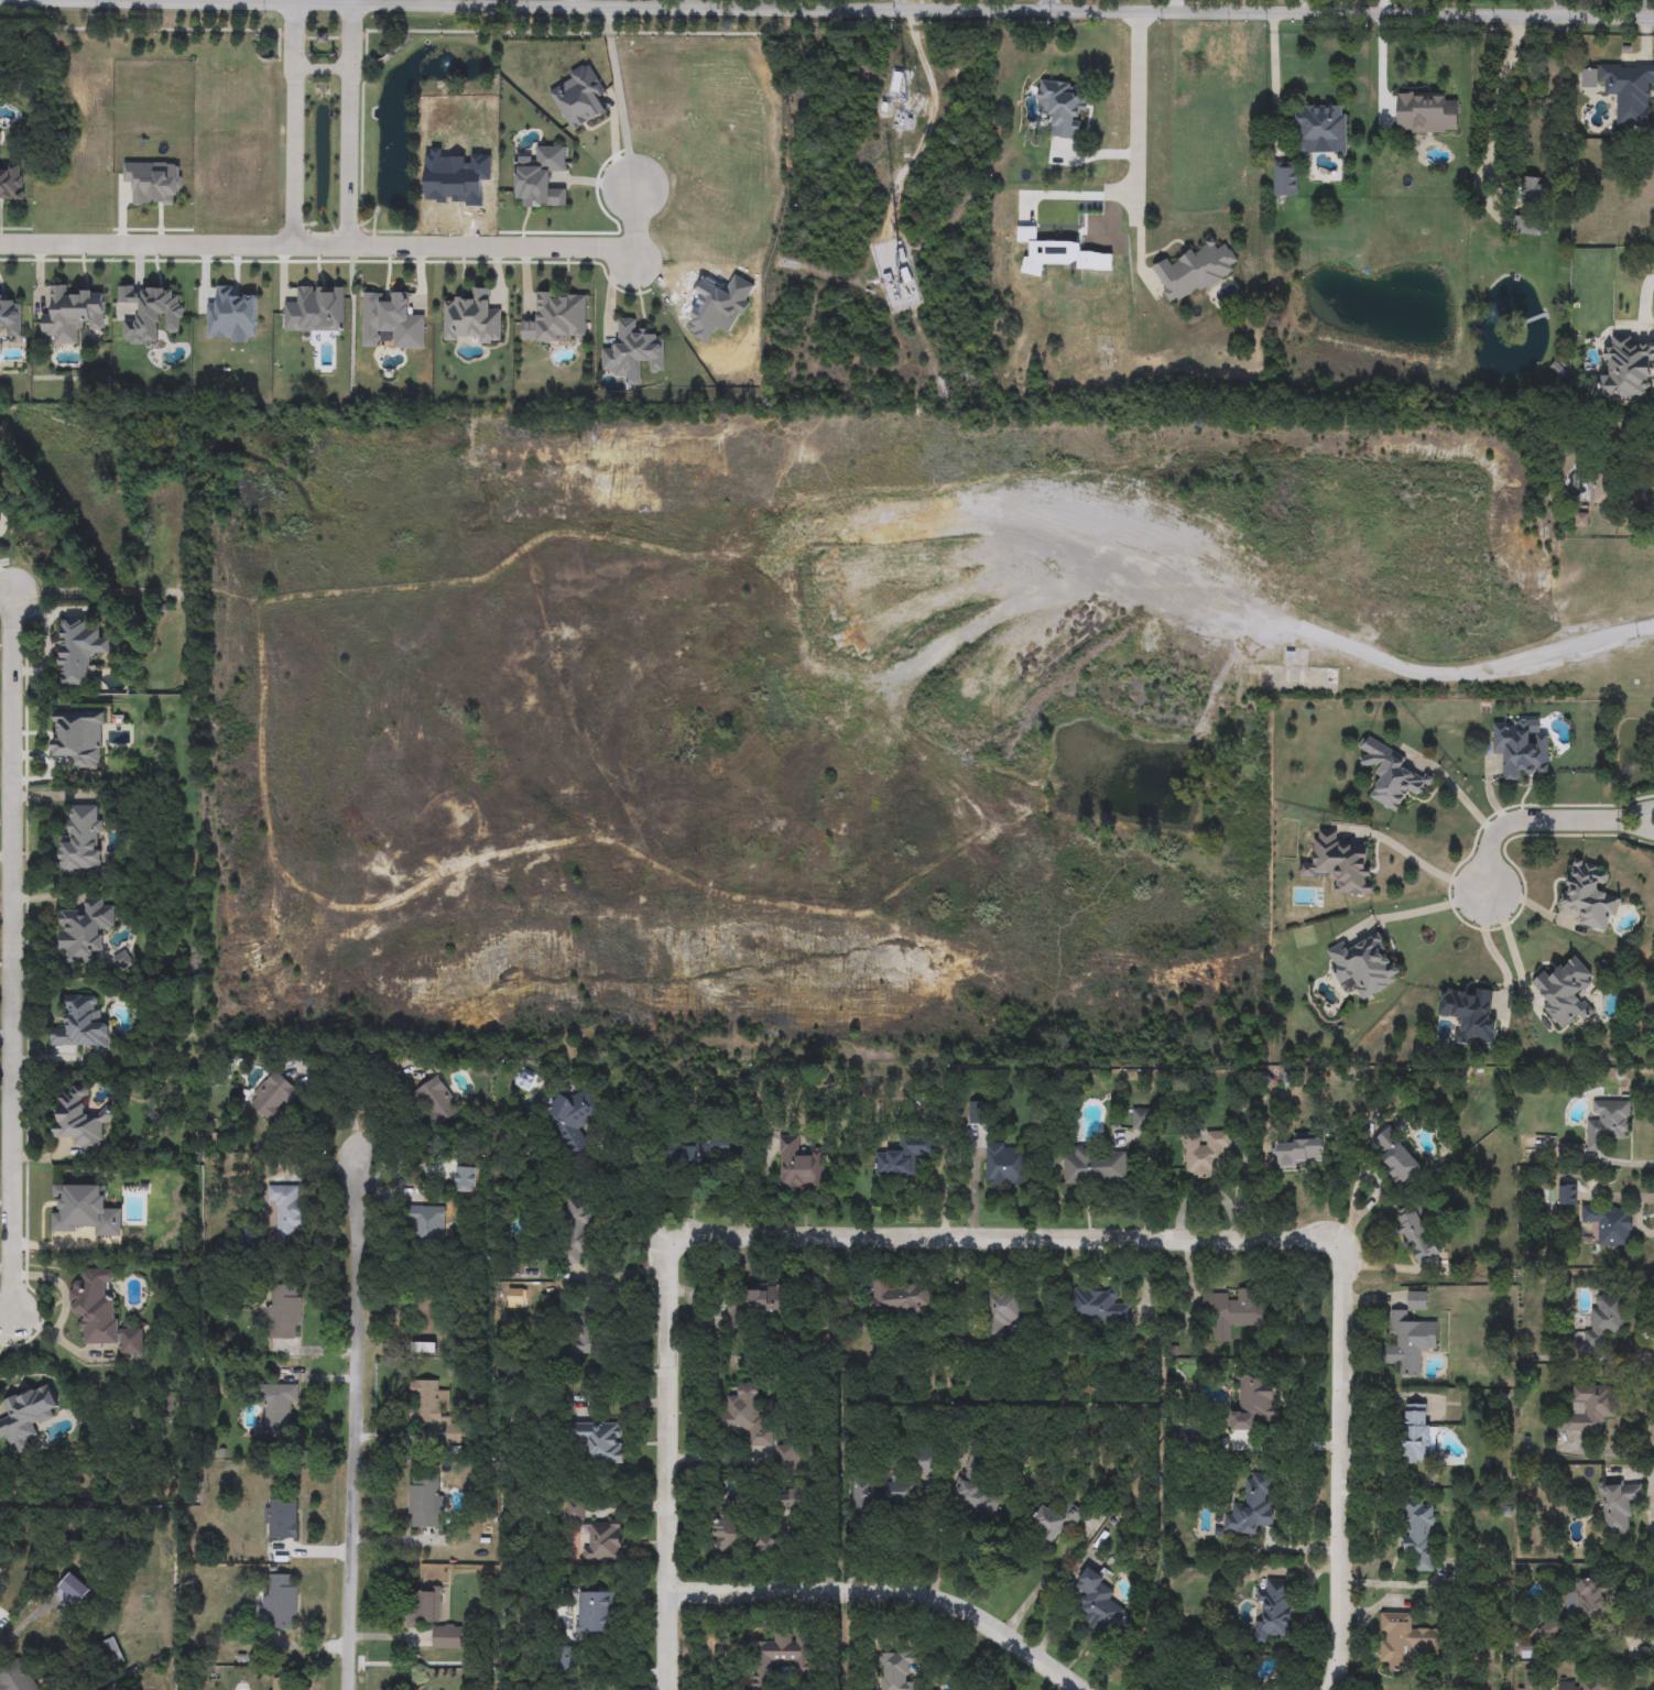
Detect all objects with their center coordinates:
road: (322, 2)
road: (1059, 4)
road: (1173, 6)
road: (1299, 6)
road: (1369, 7)
road: (873, 8)
building: (1629, 91)
road: (618, 97)
road: (1491, 109)
building: (1426, 113)
road: (915, 116)
road: (1135, 121)
road: (292, 127)
road: (349, 127)
building: (1319, 129)
building: (1285, 178)
building: (11, 184)
building: (1534, 192)
road: (634, 223)
building: (1519, 225)
road: (318, 248)
building: (1194, 271)
road: (1643, 303)
building: (150, 314)
building: (73, 316)
building: (11, 317)
building: (471, 318)
building: (555, 318)
building: (392, 321)
building: (632, 350)
building: (1626, 370)
building: (1602, 489)
road: (6, 595)
building: (78, 651)
park: (821, 715)
building: (1520, 749)
building: (1390, 775)
road: (1628, 814)
road: (1516, 824)
road: (1626, 832)
building: (81, 843)
building: (1340, 864)
road: (1429, 874)
building: (1589, 896)
road: (1435, 913)
building: (84, 931)
road: (11, 955)
road: (1491, 955)
building: (1364, 966)
building: (1564, 993)
building: (1470, 1015)
building: (81, 1025)
building: (527, 1081)
building: (273, 1097)
building: (436, 1101)
building: (978, 1113)
building: (577, 1117)
building: (78, 1120)
building: (1608, 1123)
building: (1299, 1151)
building: (706, 1154)
building: (1106, 1155)
building: (1206, 1155)
building: (903, 1156)
building: (1395, 1156)
building: (799, 1165)
building: (1003, 1165)
building: (466, 1179)
building: (1567, 1195)
building: (286, 1211)
building: (427, 1225)
building: (1608, 1225)
building: (577, 1231)
building: (1415, 1233)
road: (1008, 1237)
building: (899, 1299)
building: (755, 1302)
building: (1096, 1306)
building: (283, 1310)
building: (1234, 1312)
building: (101, 1313)
building: (999, 1313)
road: (6, 1316)
building: (1604, 1320)
building: (583, 1335)
building: (1411, 1338)
building: (1254, 1402)
building: (278, 1407)
building: (433, 1408)
building: (1589, 1409)
building: (747, 1415)
building: (28, 1416)
road: (353, 1425)
building: (1415, 1433)
building: (1186, 1436)
building: (600, 1441)
building: (922, 1461)
road: (718, 1462)
building: (882, 1495)
building: (975, 1496)
building: (425, 1501)
building: (792, 1501)
building: (1619, 1506)
building: (1253, 1507)
road: (1650, 1514)
building: (281, 1519)
building: (1053, 1520)
building: (726, 1533)
road: (875, 1533)
building: (1418, 1534)
building: (597, 1536)
building: (769, 1546)
road: (1046, 1580)
road: (886, 1593)
building: (280, 1601)
building: (1588, 1601)
building: (1103, 1609)
building: (595, 1612)
building: (1273, 1612)
building: (433, 1618)
building: (1549, 1629)
building: (1404, 1642)
building: (110, 1648)
building: (781, 1657)
building: (894, 1671)
building: (17, 1681)
building: (281, 1684)
building: (1584, 1684)
building: (1216, 1689)

